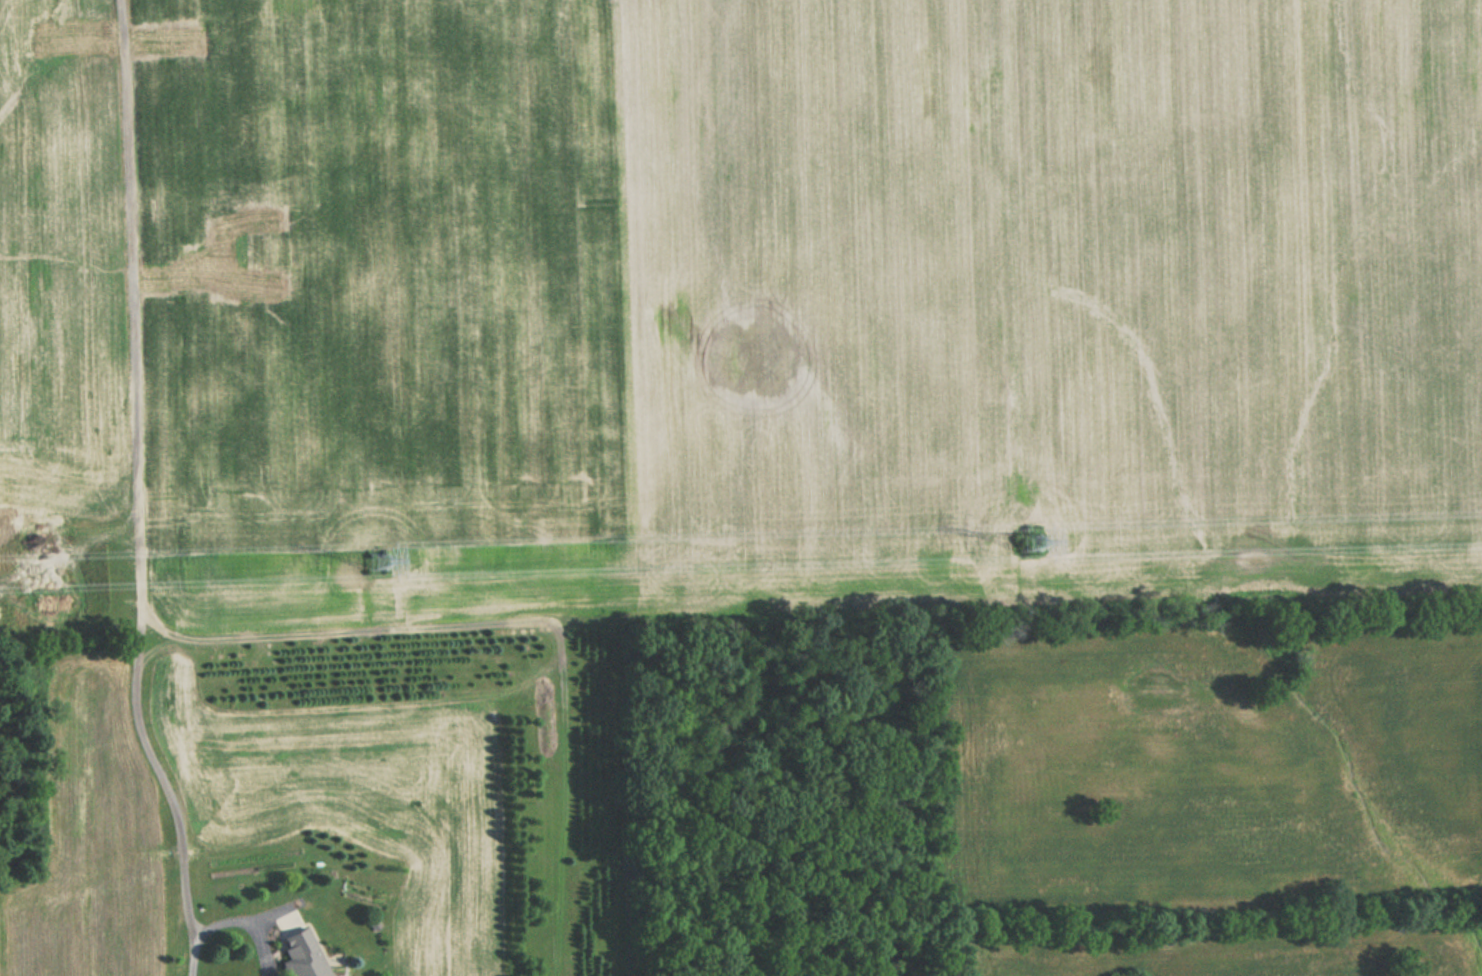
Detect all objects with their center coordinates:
road: (136, 474)
power tower: (1027, 544)
power tower: (370, 560)
road: (273, 911)
road: (285, 918)
road: (247, 924)
building: (301, 954)
road: (193, 956)

